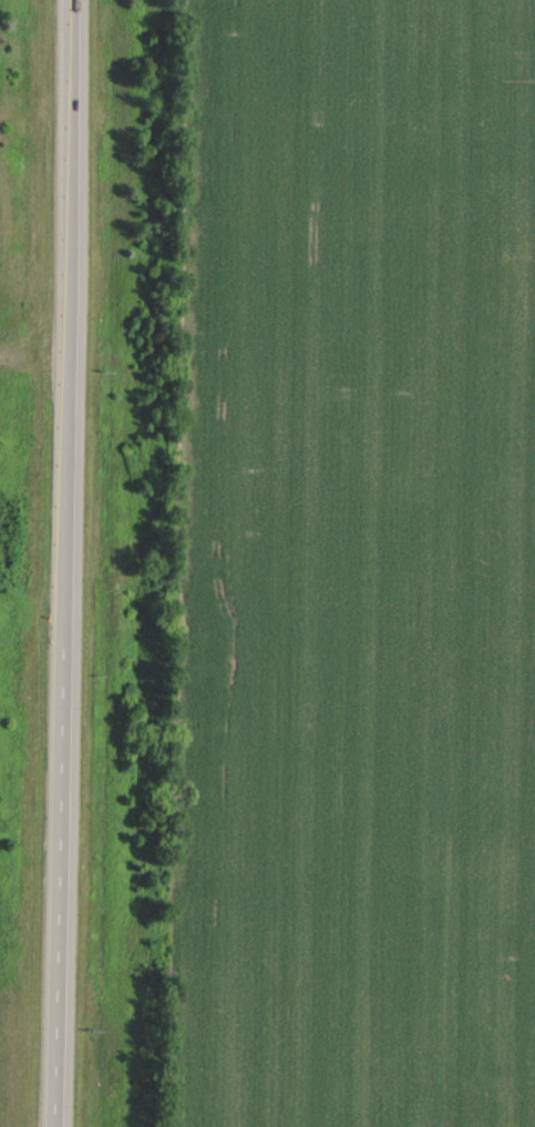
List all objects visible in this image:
road: (63, 563)

